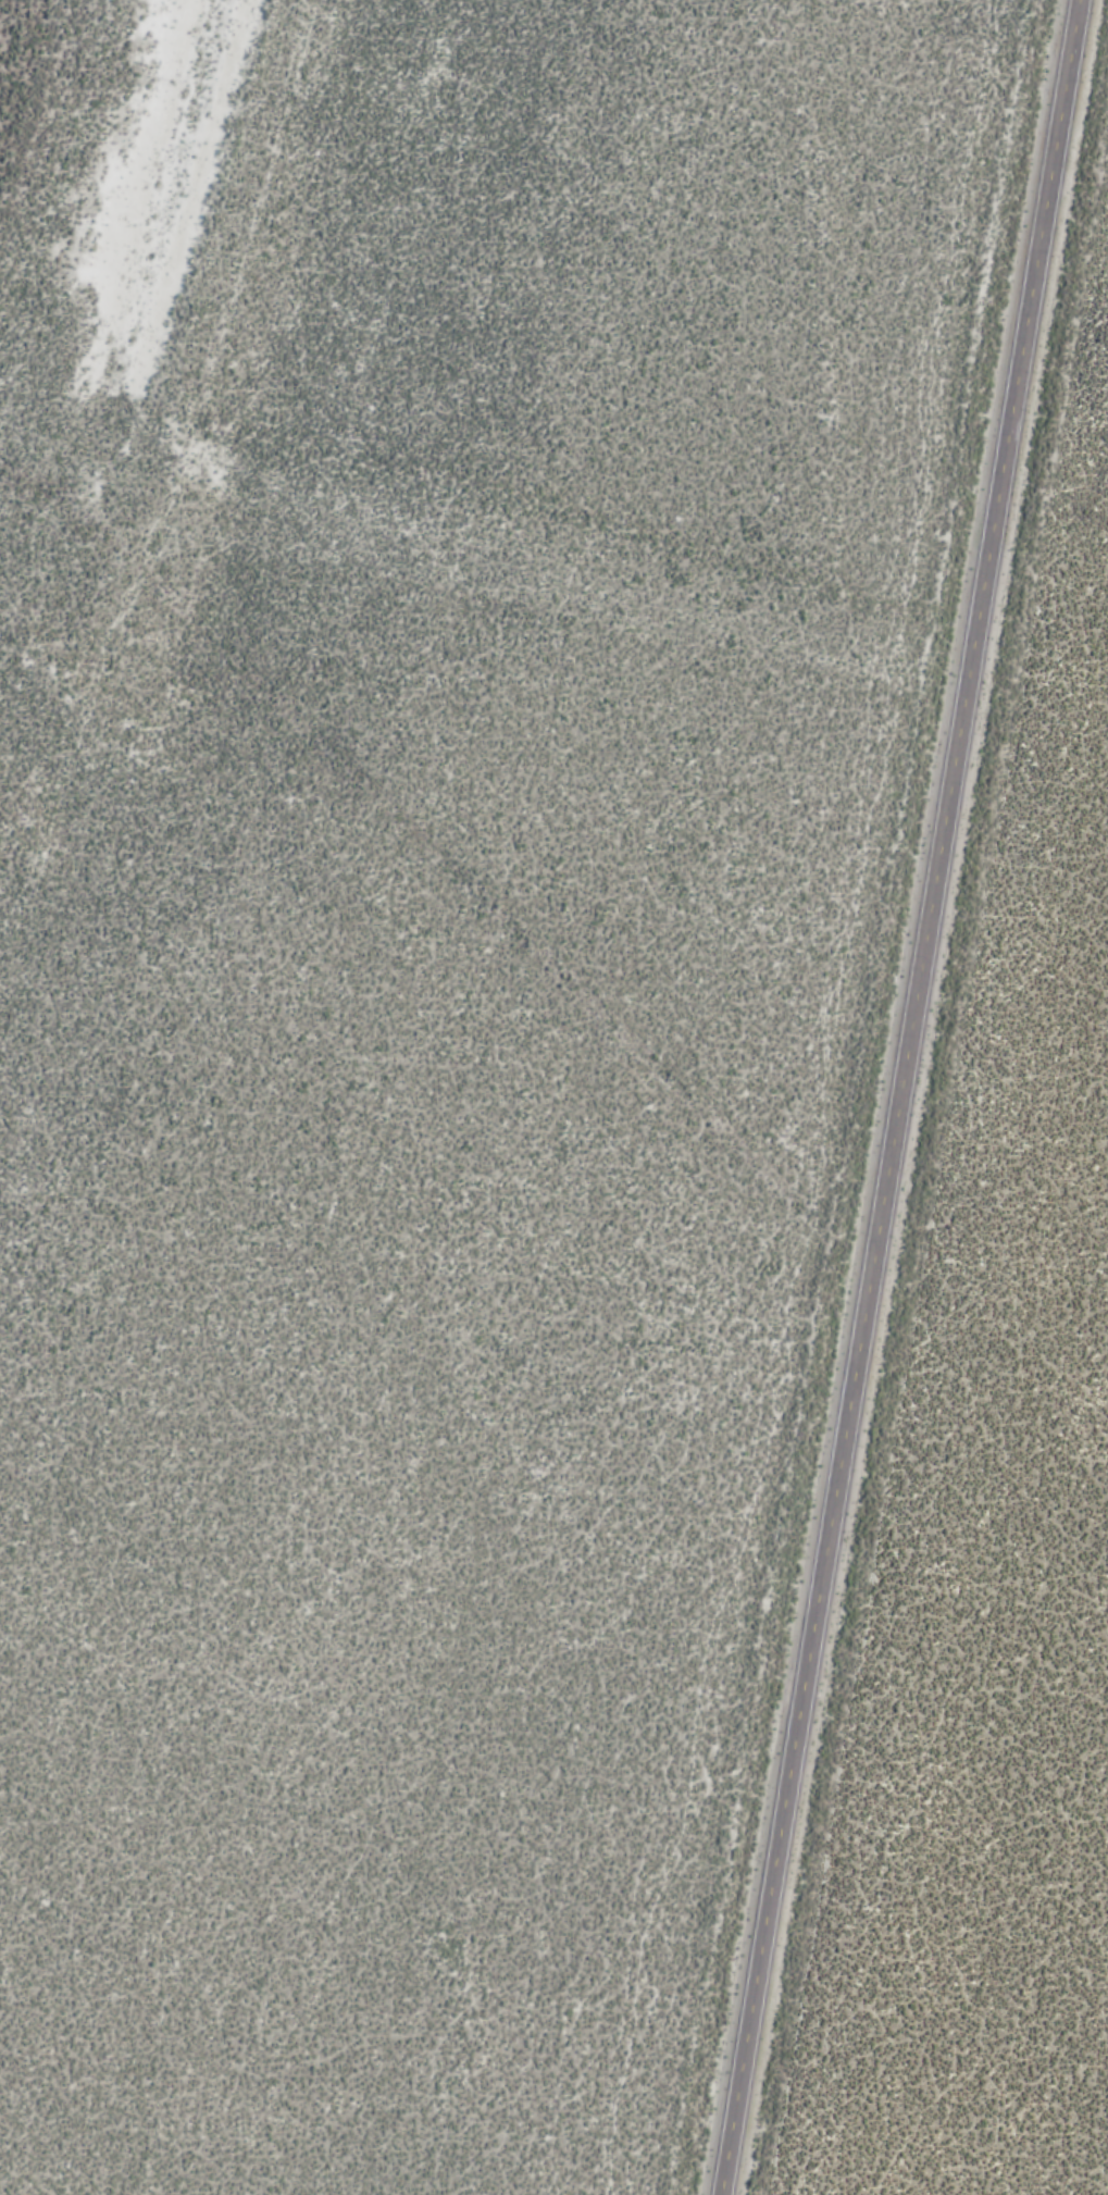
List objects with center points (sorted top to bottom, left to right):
road: (899, 1097)

